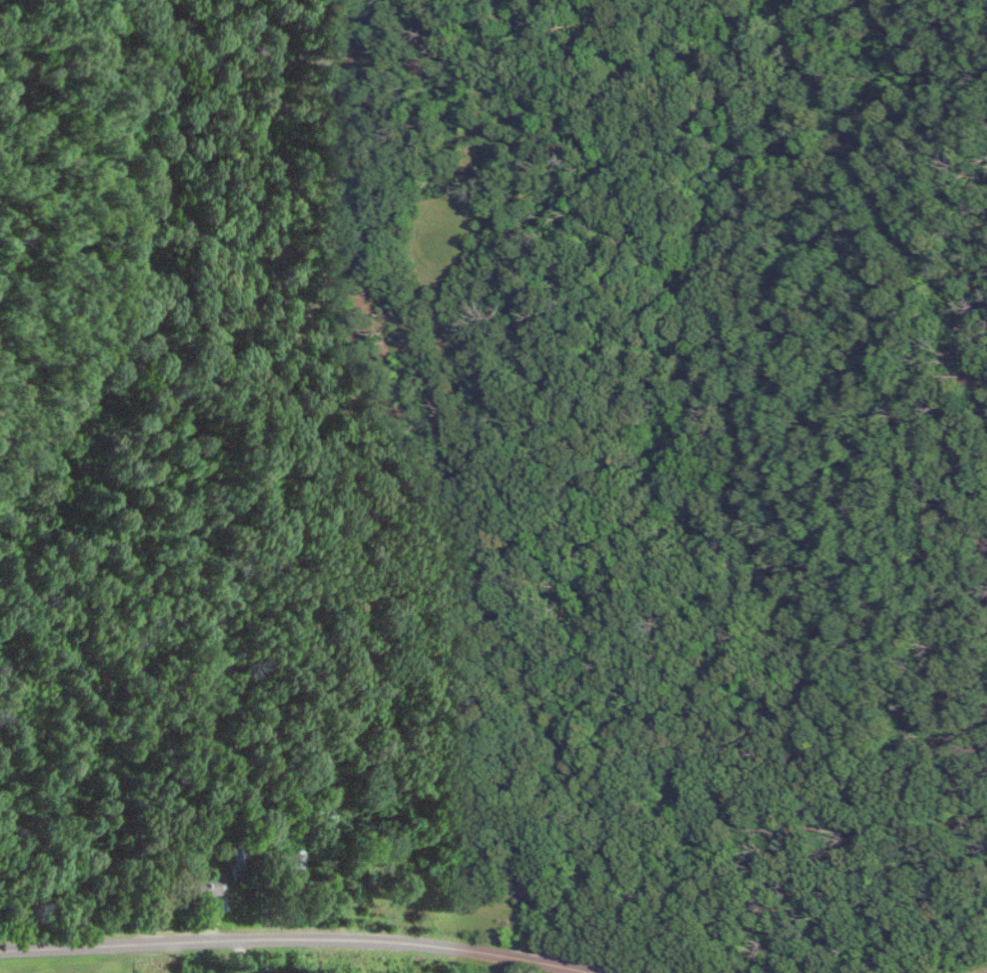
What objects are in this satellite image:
building: (290, 861)
building: (208, 887)
road: (302, 936)

